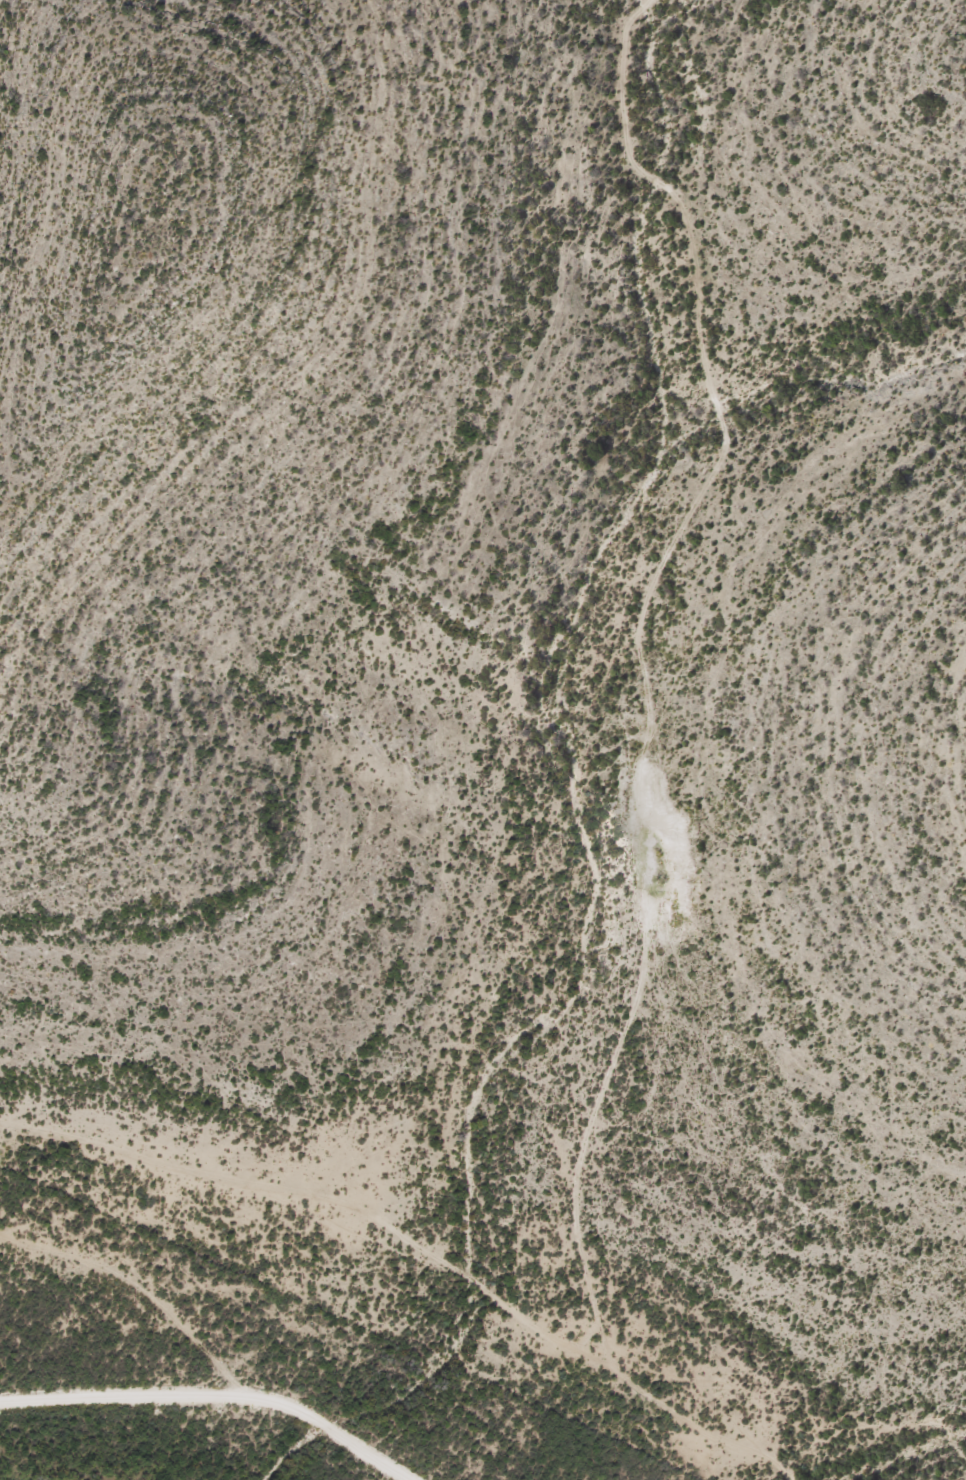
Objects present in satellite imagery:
road: (220, 1398)

